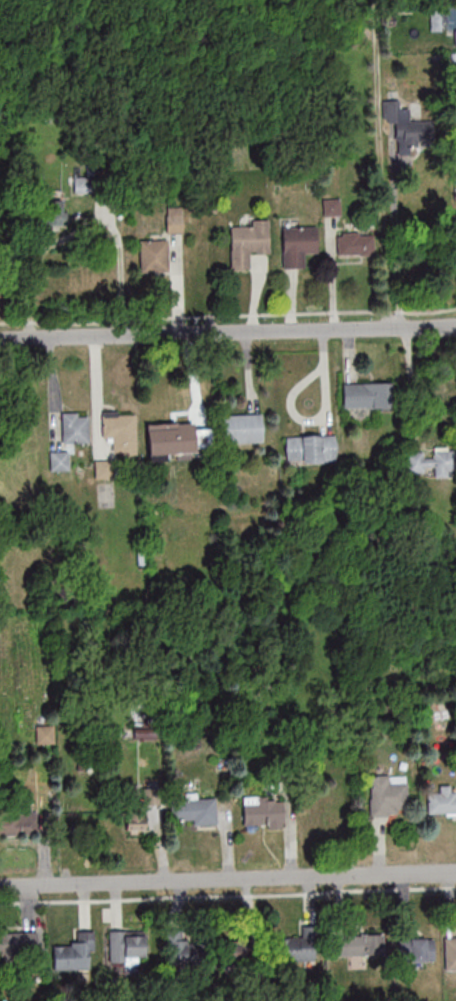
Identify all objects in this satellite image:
building: (455, 34)
building: (410, 118)
building: (55, 212)
building: (174, 223)
building: (249, 243)
building: (355, 244)
building: (297, 246)
building: (0, 255)
building: (153, 255)
road: (227, 331)
road: (409, 380)
building: (368, 395)
building: (75, 427)
building: (240, 429)
building: (119, 431)
building: (171, 438)
building: (310, 449)
building: (60, 460)
building: (433, 462)
building: (104, 469)
building: (388, 795)
building: (442, 802)
building: (195, 810)
building: (263, 814)
building: (318, 814)
building: (135, 817)
building: (18, 822)
road: (227, 878)
building: (19, 944)
building: (358, 945)
building: (127, 948)
building: (297, 949)
building: (416, 949)
building: (184, 950)
building: (240, 952)
building: (75, 953)
building: (450, 954)

